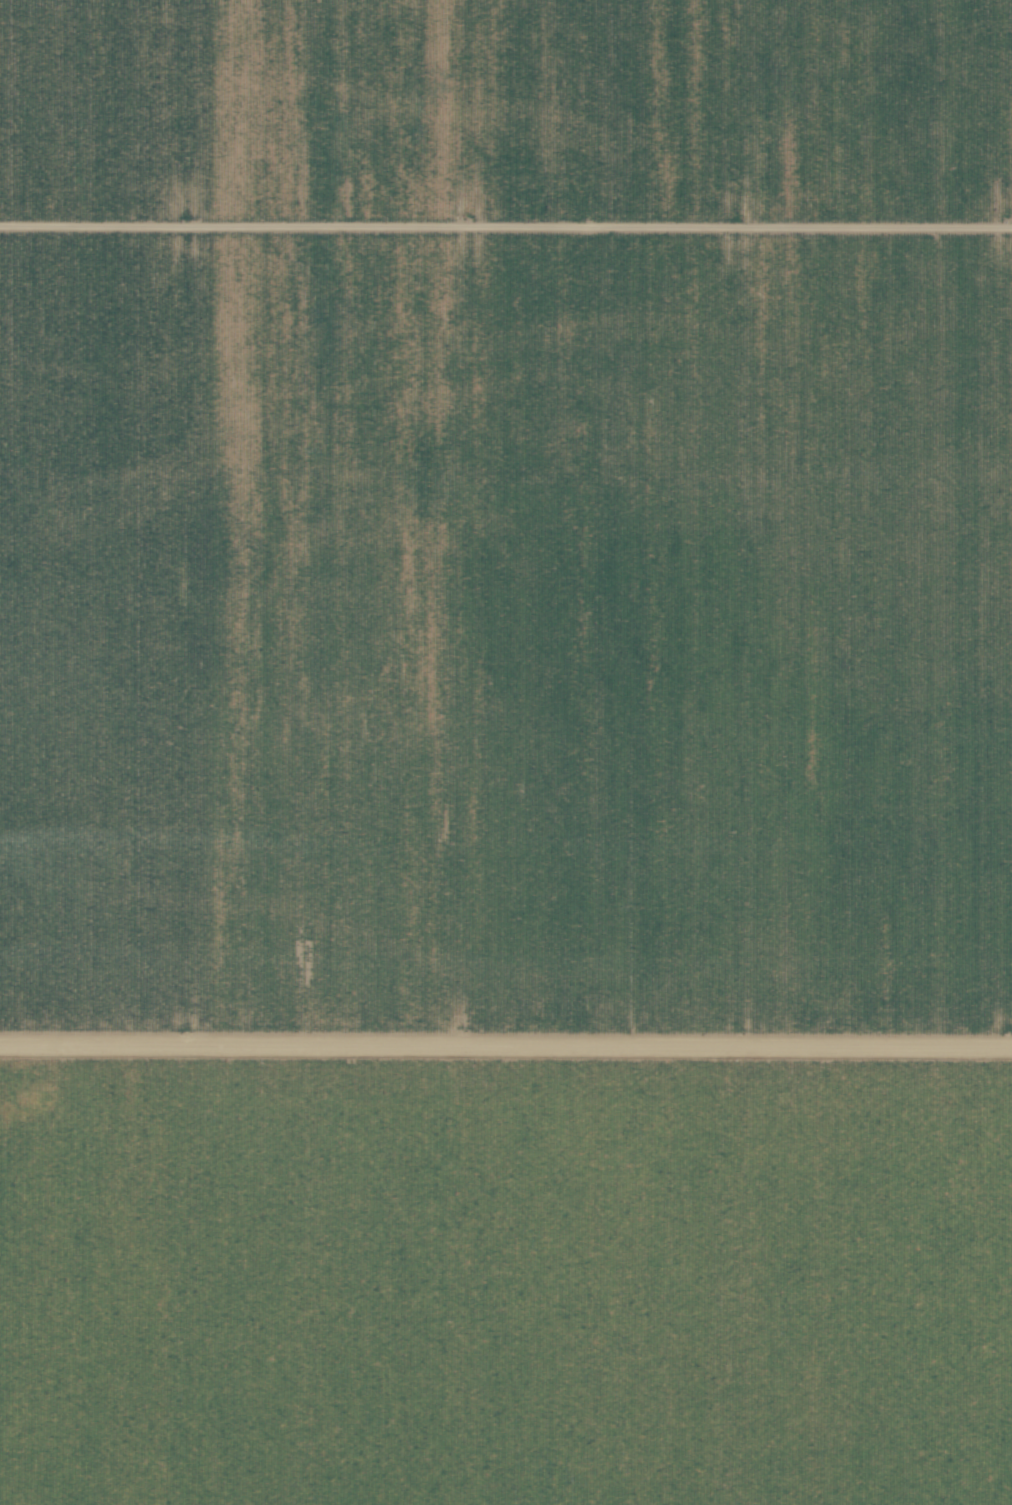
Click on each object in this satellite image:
crop: (506, 519)
crop: (502, 1047)
road: (506, 1058)
crop: (505, 1280)

